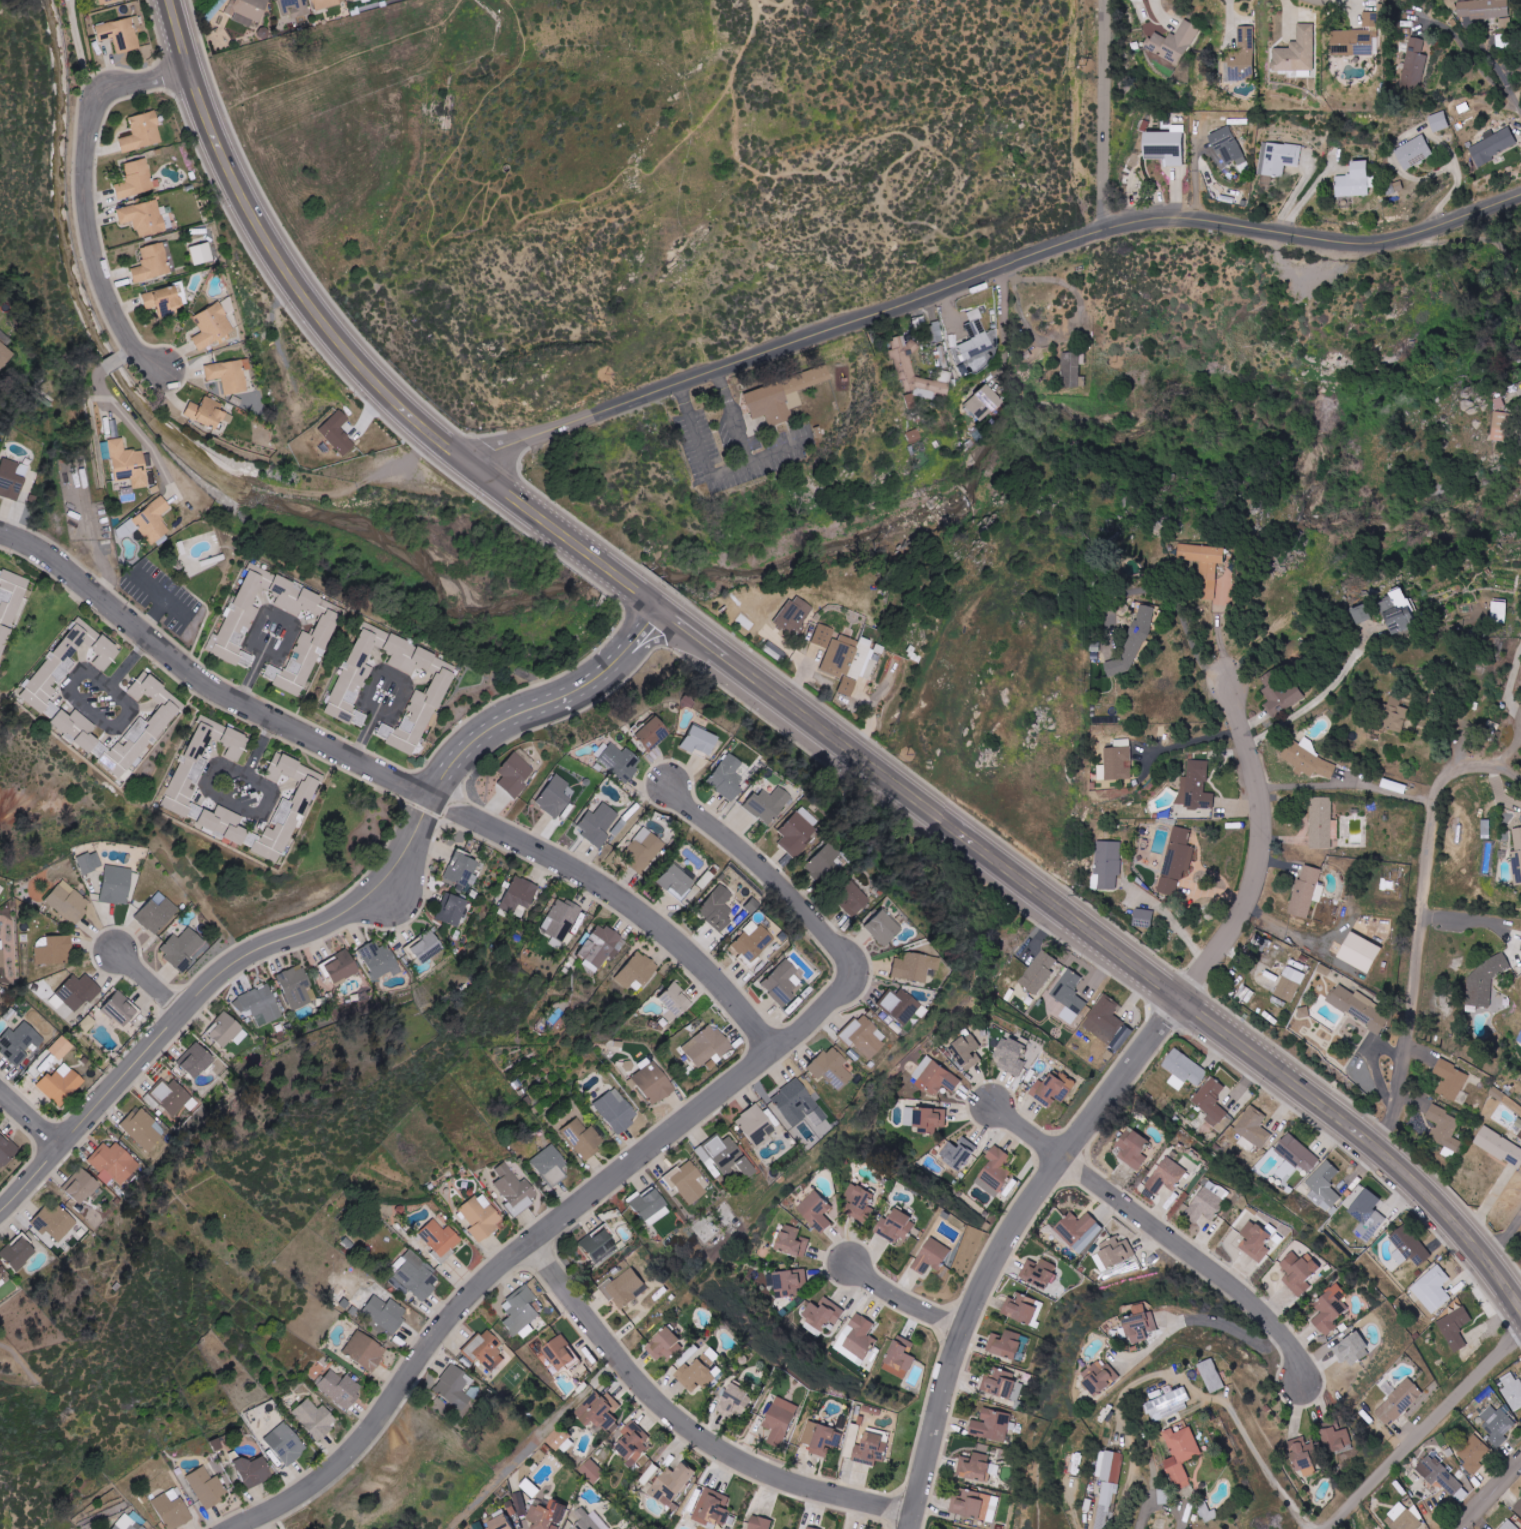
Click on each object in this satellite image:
building: (327, 3)
building: (296, 9)
building: (1485, 10)
building: (249, 11)
building: (120, 34)
building: (1355, 38)
road: (158, 42)
building: (1173, 42)
building: (1297, 51)
road: (74, 53)
road: (206, 54)
road: (344, 56)
building: (1243, 56)
building: (1414, 64)
road: (1478, 64)
road: (1076, 100)
building: (444, 107)
road: (1104, 114)
building: (1439, 121)
building: (143, 132)
building: (1227, 145)
building: (1493, 146)
building: (1164, 147)
building: (1414, 152)
building: (1281, 157)
building: (505, 166)
road: (1459, 171)
building: (138, 179)
building: (1354, 180)
road: (85, 199)
road: (487, 215)
building: (145, 218)
building: (200, 254)
building: (151, 263)
road: (987, 274)
building: (164, 302)
road: (1003, 325)
building: (212, 326)
road: (1069, 328)
building: (975, 337)
road: (125, 351)
building: (5, 354)
road: (111, 361)
building: (903, 361)
building: (1071, 369)
building: (230, 375)
building: (781, 395)
building: (984, 402)
building: (207, 412)
road: (732, 415)
building: (1502, 427)
road: (135, 430)
building: (338, 433)
building: (129, 464)
road: (712, 474)
building: (75, 476)
building: (11, 480)
building: (153, 521)
building: (1201, 566)
road: (159, 591)
building: (10, 607)
building: (1398, 611)
building: (1499, 612)
building: (1362, 614)
road: (153, 615)
building: (794, 615)
building: (241, 620)
road: (1187, 626)
road: (291, 634)
road: (637, 635)
building: (303, 636)
building: (822, 636)
road: (664, 639)
building: (1125, 643)
building: (106, 653)
building: (847, 657)
building: (60, 662)
road: (799, 676)
road: (204, 683)
building: (352, 684)
road: (68, 686)
building: (847, 687)
road: (405, 691)
road: (1321, 695)
road: (1513, 695)
building: (1281, 697)
road: (784, 701)
building: (1394, 714)
road: (511, 716)
building: (142, 727)
building: (77, 729)
building: (649, 732)
road: (1195, 740)
building: (699, 741)
building: (235, 744)
road: (1508, 754)
building: (1307, 759)
building: (620, 761)
building: (1113, 762)
building: (191, 772)
building: (516, 772)
building: (726, 778)
road: (1348, 783)
building: (1195, 785)
road: (204, 791)
building: (554, 797)
building: (766, 805)
building: (286, 809)
building: (1322, 823)
building: (598, 824)
building: (226, 825)
building: (1485, 827)
building: (795, 832)
building: (643, 850)
road: (1260, 851)
building: (1517, 856)
building: (1176, 861)
building: (90, 862)
building: (822, 864)
building: (1108, 864)
building: (461, 871)
building: (677, 883)
building: (118, 885)
building: (1307, 891)
building: (520, 895)
road: (620, 898)
building: (848, 899)
building: (69, 902)
building: (717, 908)
building: (453, 909)
road: (804, 911)
building: (158, 914)
road: (1172, 916)
building: (1143, 918)
road: (1467, 918)
road: (1421, 919)
building: (560, 921)
building: (877, 927)
road: (1294, 935)
building: (749, 942)
building: (602, 946)
building: (429, 948)
building: (183, 949)
building: (1520, 950)
building: (55, 951)
building: (1359, 953)
building: (2, 954)
building: (381, 960)
building: (344, 966)
building: (911, 967)
building: (639, 971)
building: (1039, 971)
road: (150, 982)
building: (775, 982)
building: (1482, 982)
building: (1289, 984)
road: (205, 986)
building: (296, 987)
building: (80, 992)
building: (1069, 995)
building: (669, 1000)
building: (260, 1005)
building: (897, 1006)
building: (1358, 1007)
building: (122, 1010)
building: (1104, 1018)
building: (228, 1030)
building: (859, 1036)
building: (20, 1042)
building: (704, 1046)
building: (62, 1048)
building: (966, 1051)
building: (1011, 1055)
building: (197, 1060)
building: (827, 1068)
building: (1183, 1069)
building: (934, 1077)
building: (1452, 1082)
building: (648, 1084)
building: (61, 1085)
building: (1051, 1090)
building: (173, 1097)
building: (794, 1104)
building: (1213, 1104)
building: (613, 1110)
building: (925, 1118)
road: (29, 1119)
building: (752, 1126)
building: (144, 1128)
building: (1253, 1129)
building: (1444, 1130)
building: (580, 1138)
building: (1499, 1146)
building: (1134, 1148)
building: (7, 1152)
building: (958, 1153)
building: (1296, 1154)
building: (722, 1157)
building: (113, 1163)
building: (546, 1165)
building: (994, 1171)
building: (1166, 1175)
building: (685, 1182)
building: (82, 1186)
building: (1324, 1186)
building: (510, 1189)
building: (857, 1200)
building: (1208, 1202)
building: (644, 1203)
building: (816, 1211)
building: (1368, 1215)
building: (477, 1216)
building: (55, 1223)
building: (897, 1225)
building: (1079, 1230)
road: (1161, 1233)
building: (436, 1239)
building: (791, 1240)
road: (1505, 1240)
building: (1255, 1241)
building: (1407, 1244)
road: (1002, 1245)
building: (1114, 1252)
building: (21, 1254)
building: (932, 1256)
building: (1037, 1272)
building: (1299, 1272)
building: (1, 1277)
building: (412, 1277)
road: (486, 1277)
building: (787, 1282)
building: (624, 1287)
building: (1434, 1289)
road: (903, 1301)
building: (1021, 1308)
building: (1330, 1309)
building: (519, 1312)
building: (382, 1313)
building: (822, 1314)
road: (1201, 1317)
building: (1140, 1323)
building: (1455, 1328)
building: (664, 1344)
building: (1006, 1345)
building: (1352, 1348)
building: (483, 1351)
building: (361, 1352)
building: (560, 1353)
building: (899, 1358)
building: (699, 1371)
building: (1212, 1376)
building: (1099, 1377)
building: (1002, 1384)
building: (336, 1388)
building: (449, 1388)
building: (1512, 1390)
building: (735, 1399)
building: (1399, 1402)
building: (1169, 1403)
building: (597, 1410)
building: (312, 1418)
building: (780, 1419)
building: (1496, 1424)
road: (688, 1425)
building: (990, 1425)
road: (1424, 1429)
building: (560, 1439)
building: (1336, 1442)
building: (282, 1444)
building: (631, 1446)
building: (871, 1448)
building: (1180, 1453)
building: (1474, 1454)
building: (1303, 1455)
road: (1255, 1458)
building: (975, 1466)
building: (1110, 1466)
building: (591, 1470)
building: (248, 1471)
building: (1441, 1477)
building: (671, 1485)
building: (203, 1487)
building: (530, 1487)
road: (1488, 1495)
building: (969, 1503)
road: (1163, 1503)
building: (520, 1504)
building: (1104, 1505)
building: (711, 1508)
building: (1518, 1509)
building: (167, 1512)
building: (546, 1515)
building: (1403, 1518)
building: (589, 1520)
building: (498, 1522)
building: (759, 1522)
building: (1508, 1525)
building: (133, 1526)
building: (113, 1527)
building: (810, 1528)

